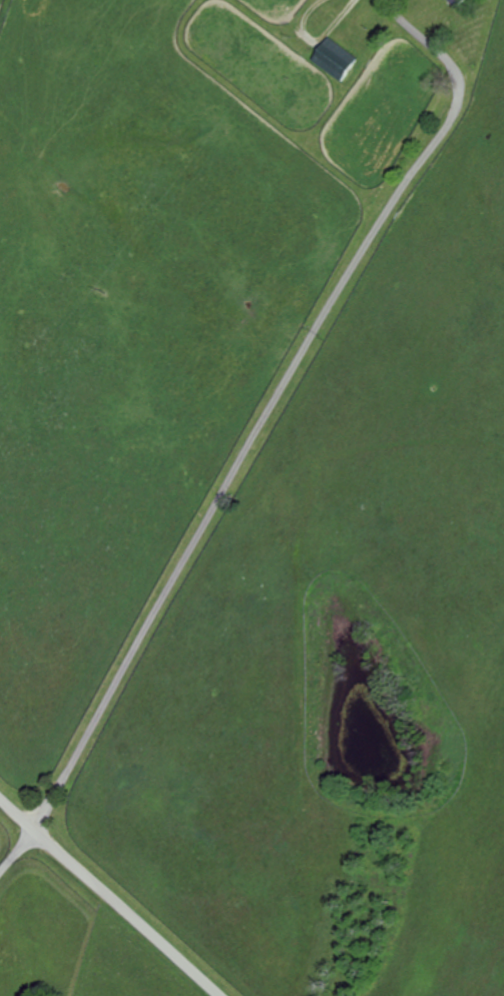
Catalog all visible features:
building: (460, 2)
building: (336, 58)
road: (273, 405)
road: (17, 852)
road: (110, 896)

